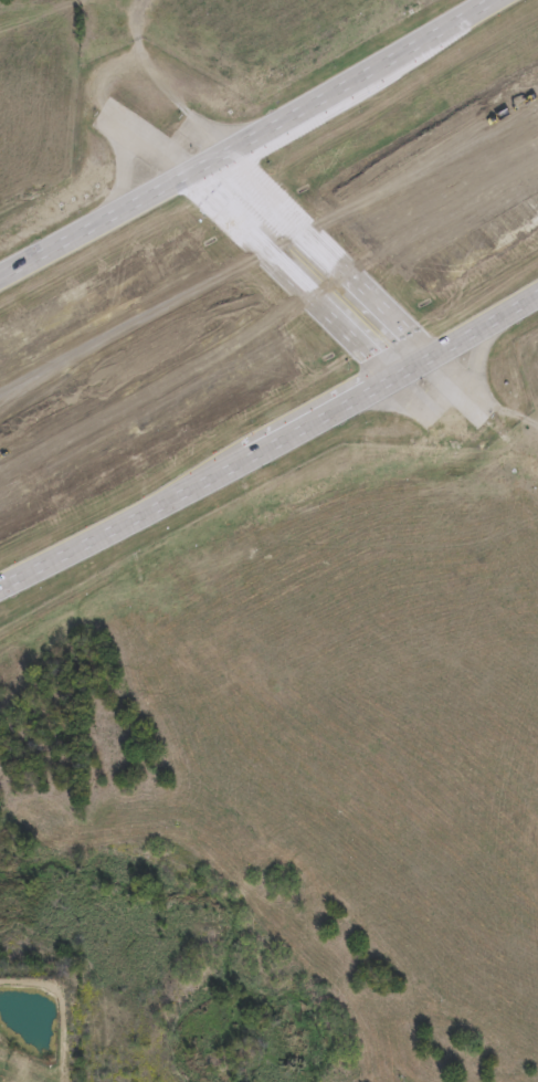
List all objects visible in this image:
road: (249, 140)
road: (325, 258)
road: (292, 275)
road: (270, 443)

